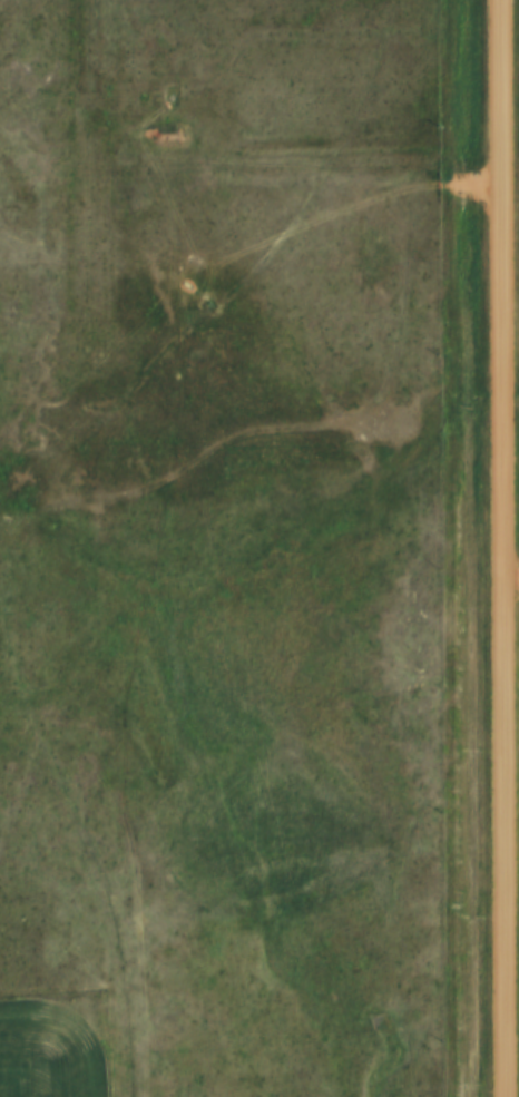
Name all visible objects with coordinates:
road: (340, 422)
road: (14, 539)
road: (510, 548)

